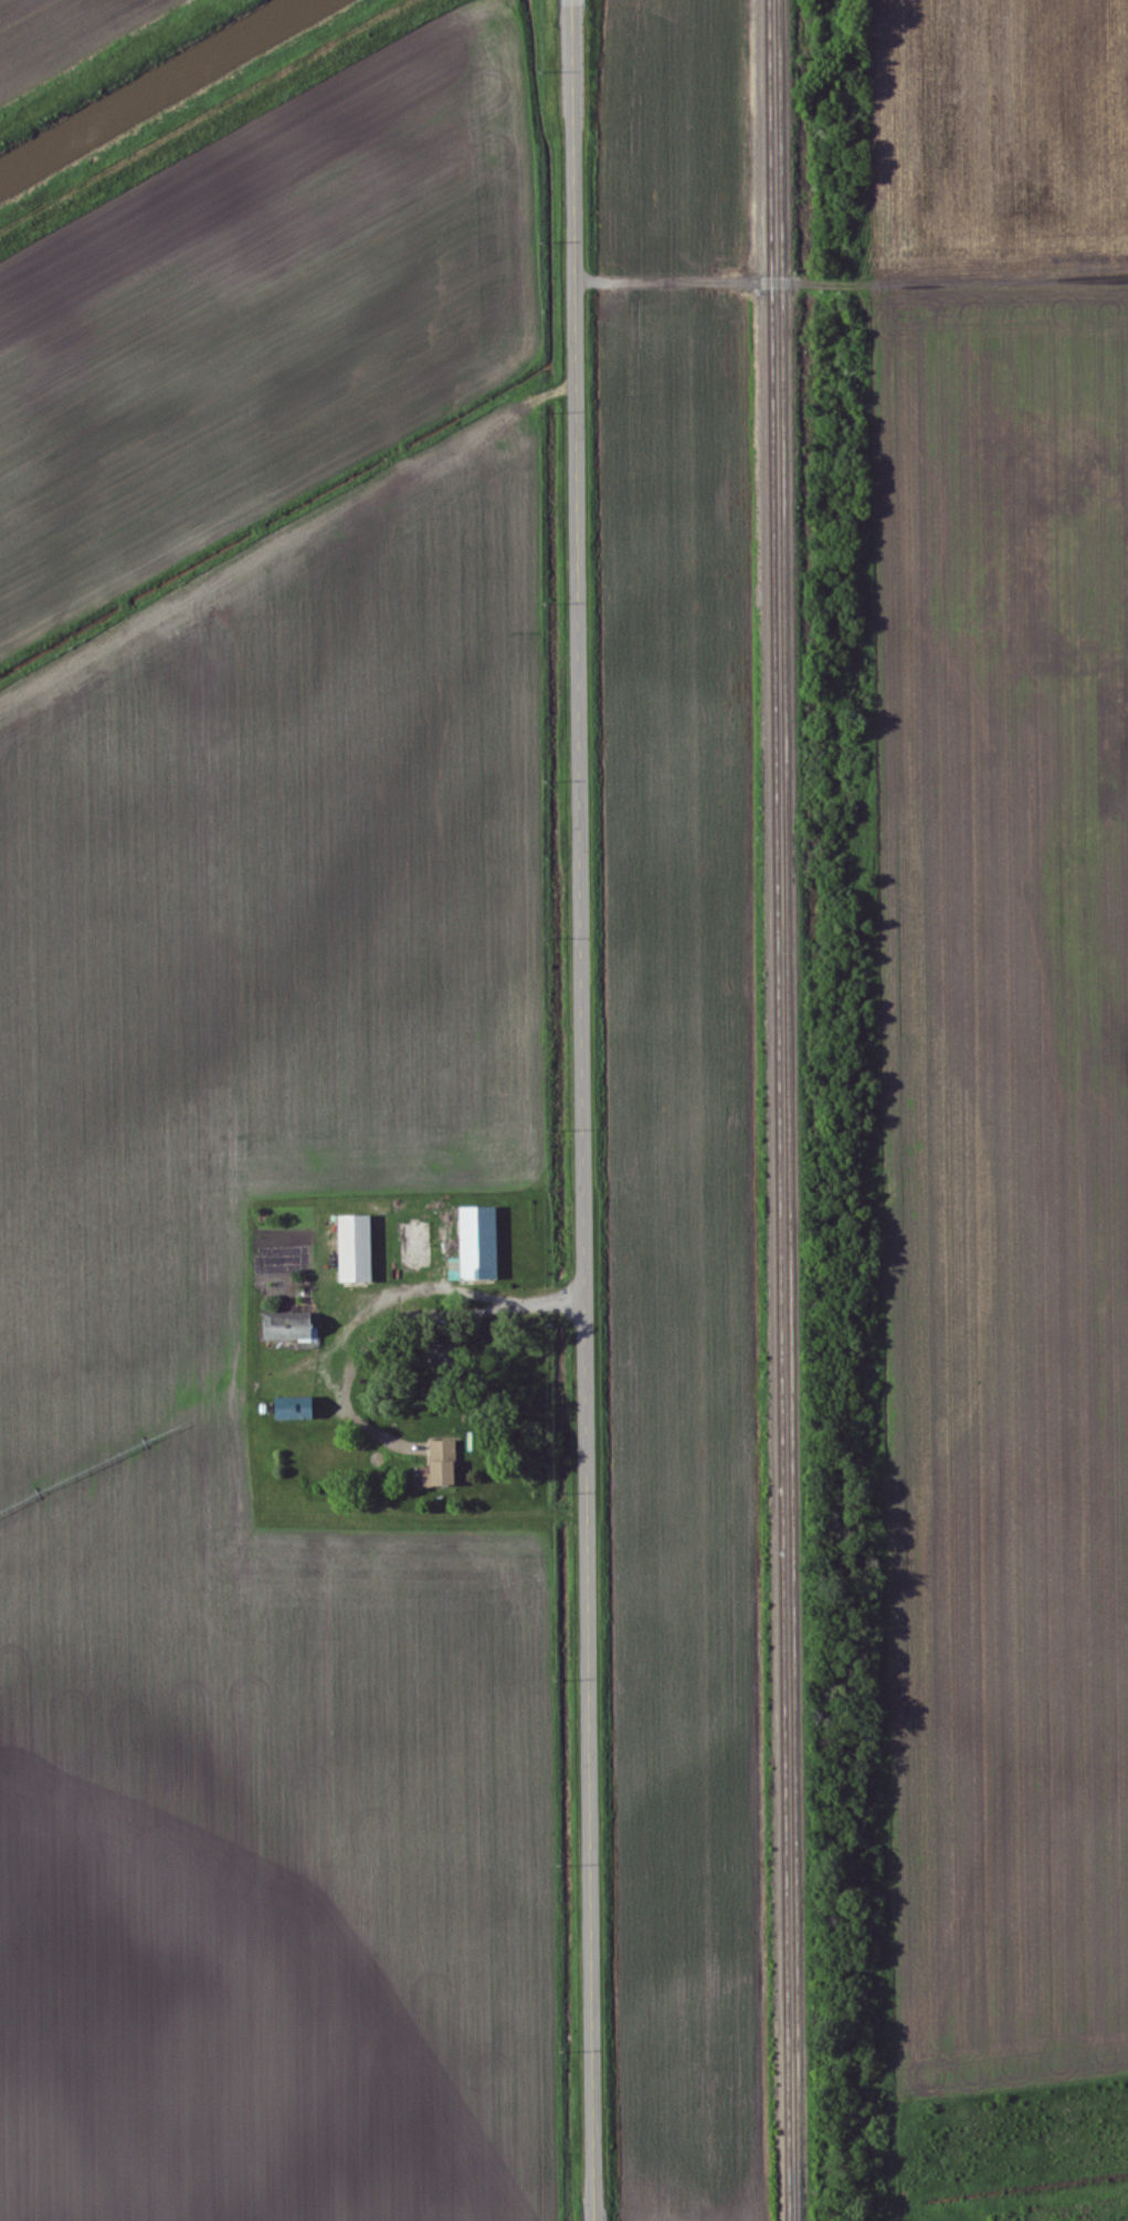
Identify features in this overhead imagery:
road: (855, 267)
road: (588, 1109)
railway: (797, 1109)
railway: (786, 1110)
building: (473, 1235)
building: (355, 1249)
road: (388, 1304)
building: (296, 1325)
building: (441, 1461)

